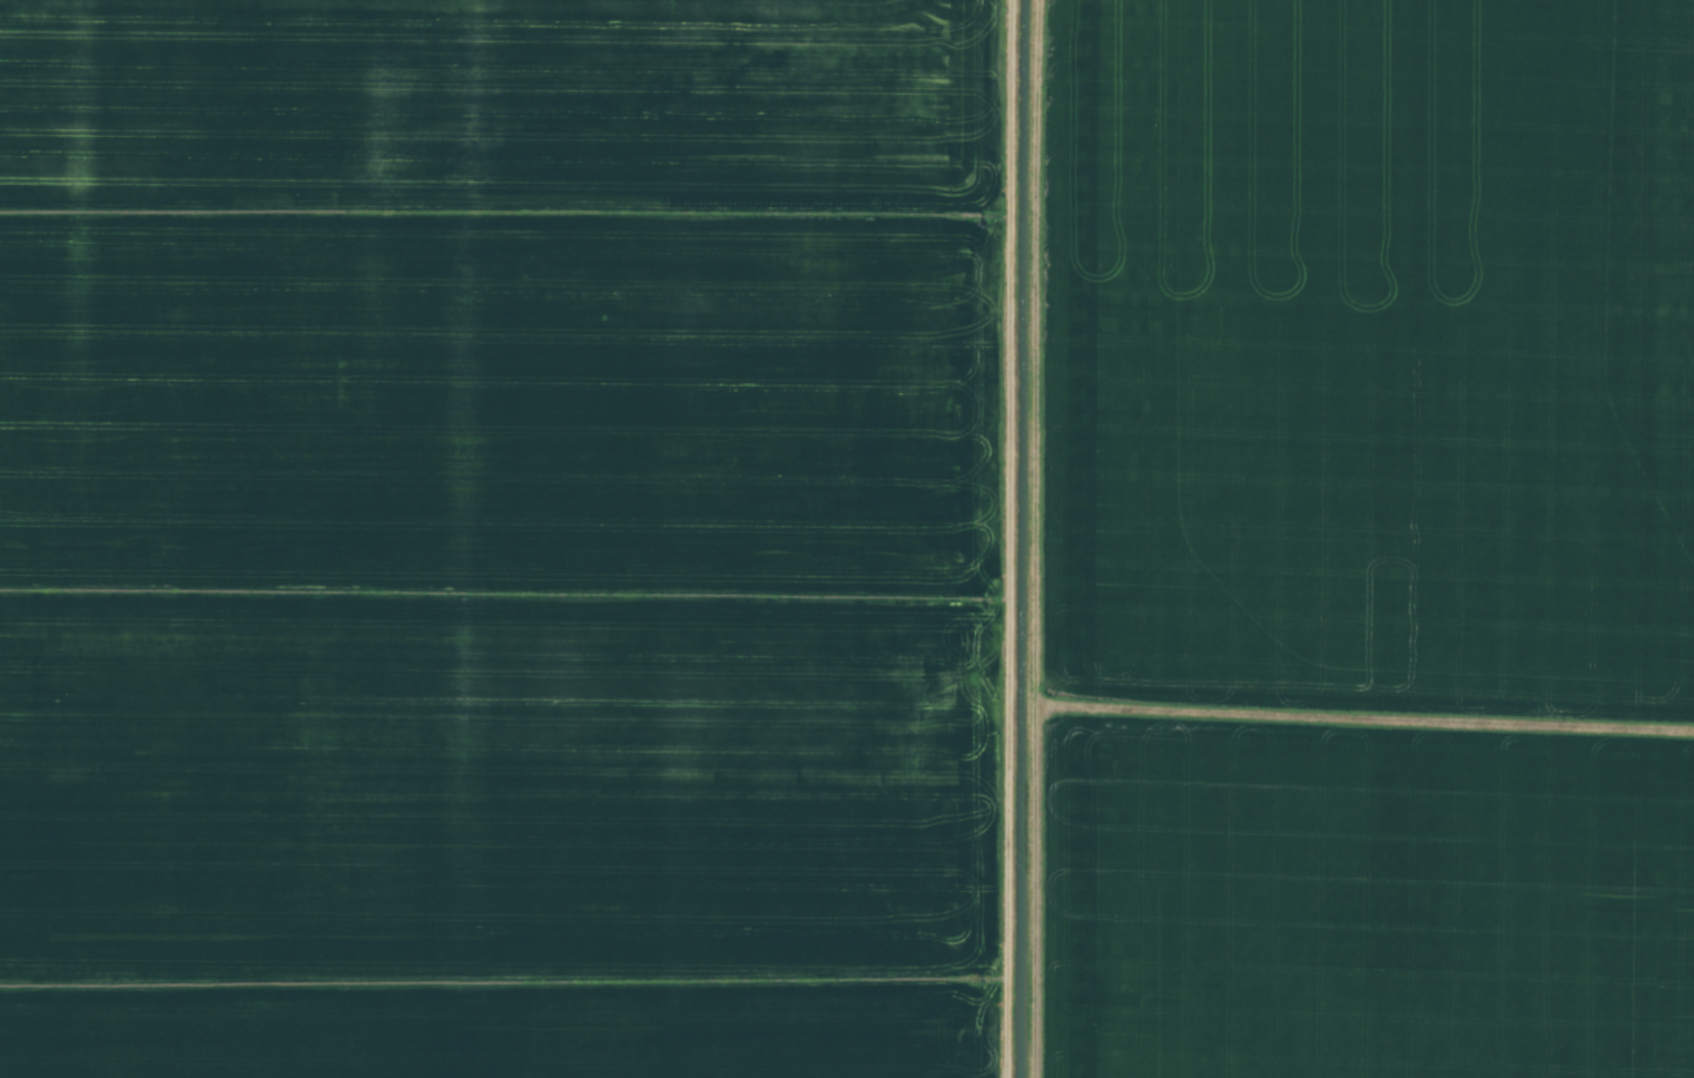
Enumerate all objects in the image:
crop: (499, 538)

